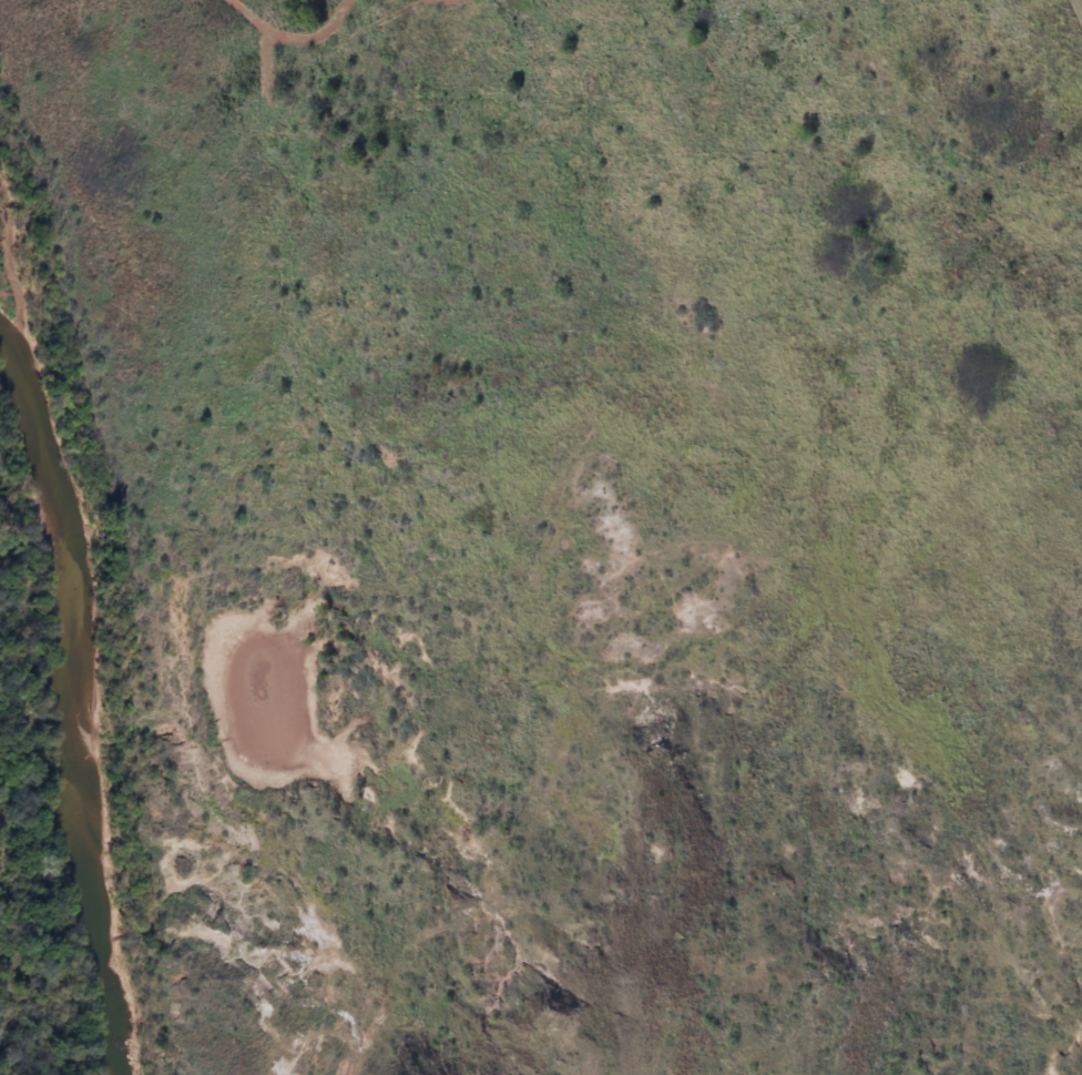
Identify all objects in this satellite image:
river: (72, 688)

